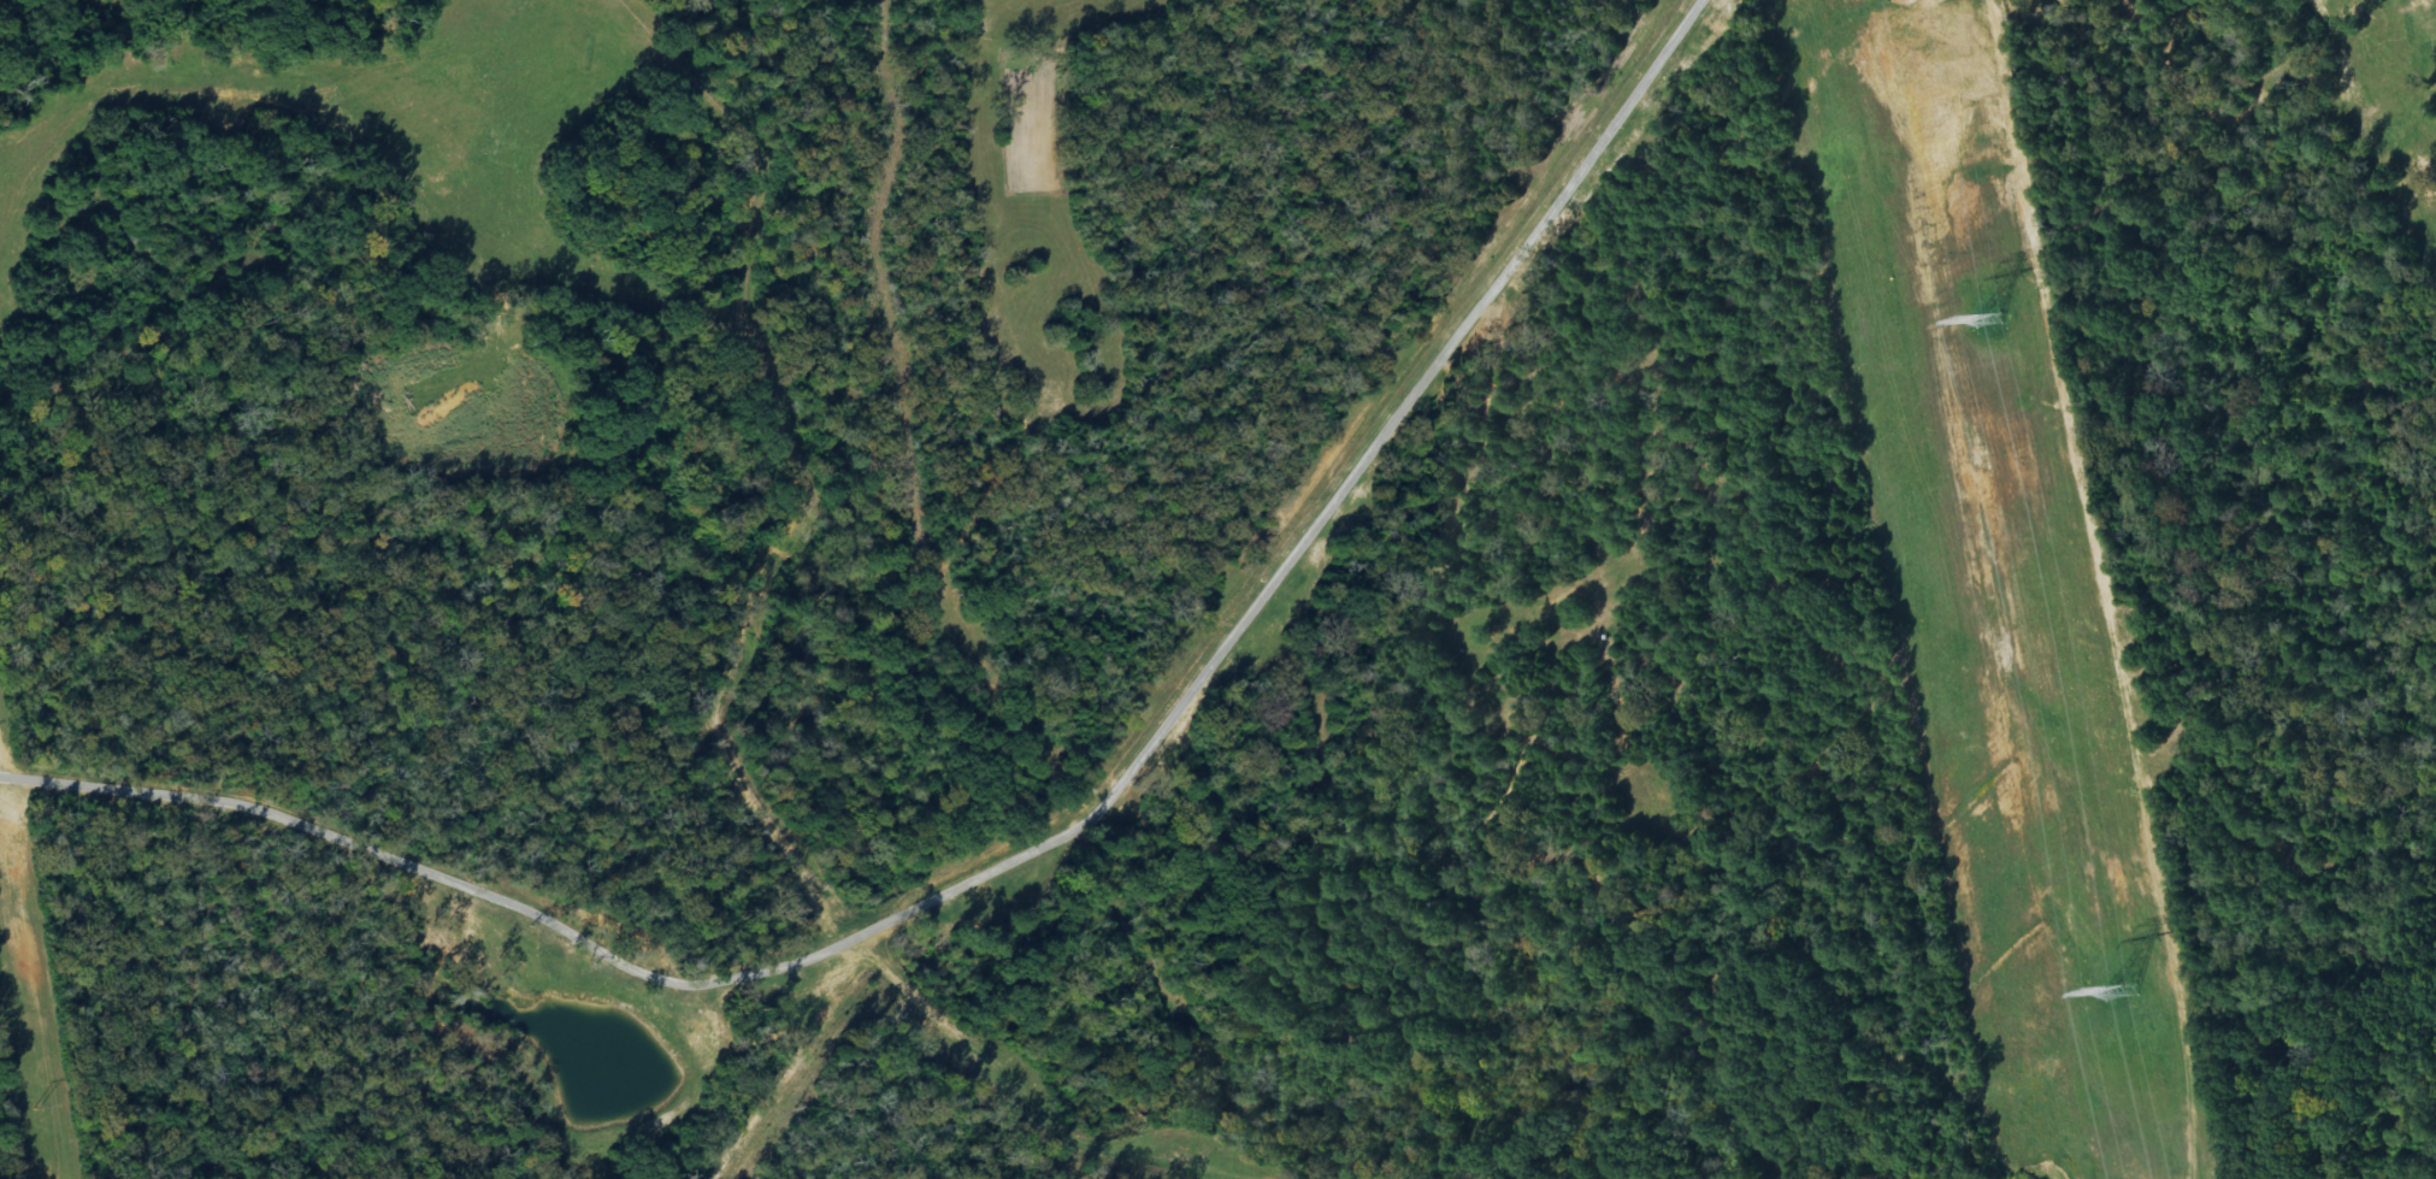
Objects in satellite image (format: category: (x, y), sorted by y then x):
power tower: (1989, 320)
power tower: (2122, 994)
power tower: (39, 1103)

